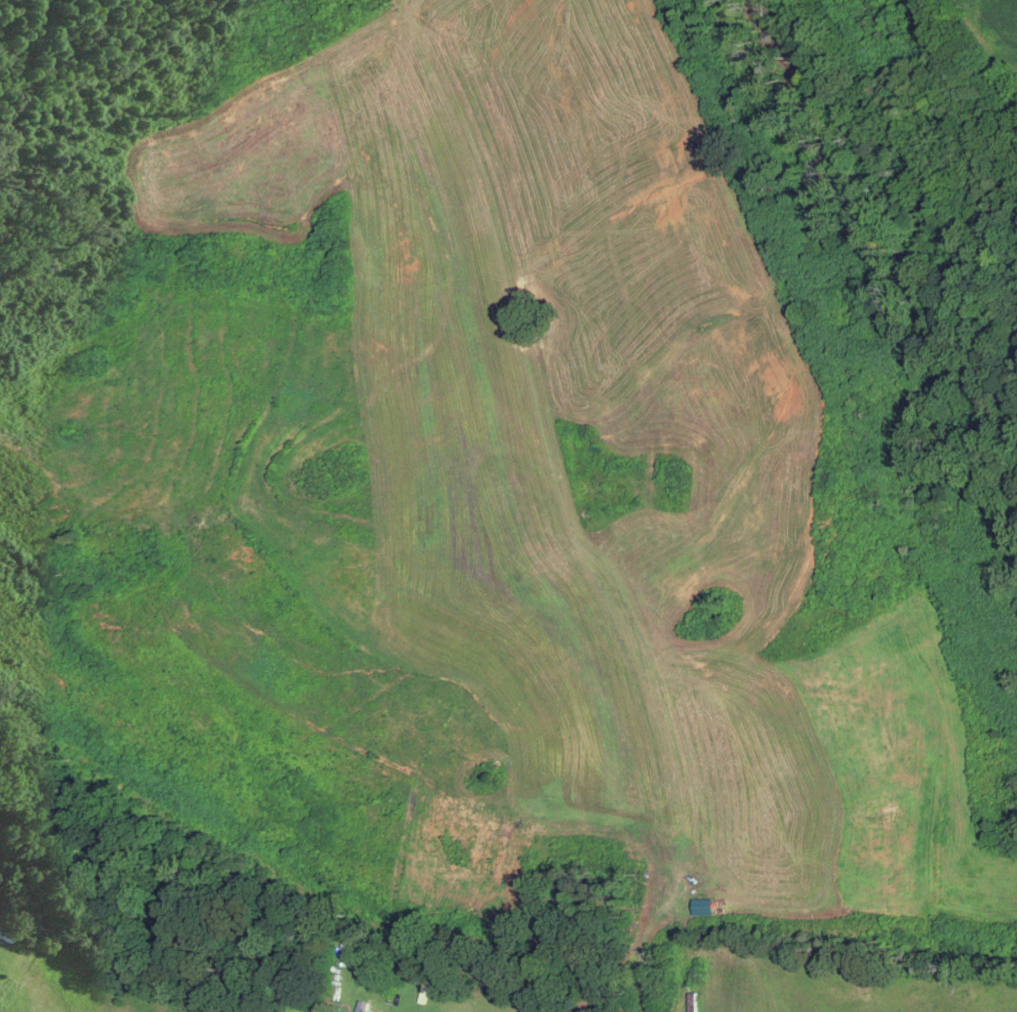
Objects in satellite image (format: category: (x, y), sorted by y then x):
road: (644, 961)
building: (366, 1010)

